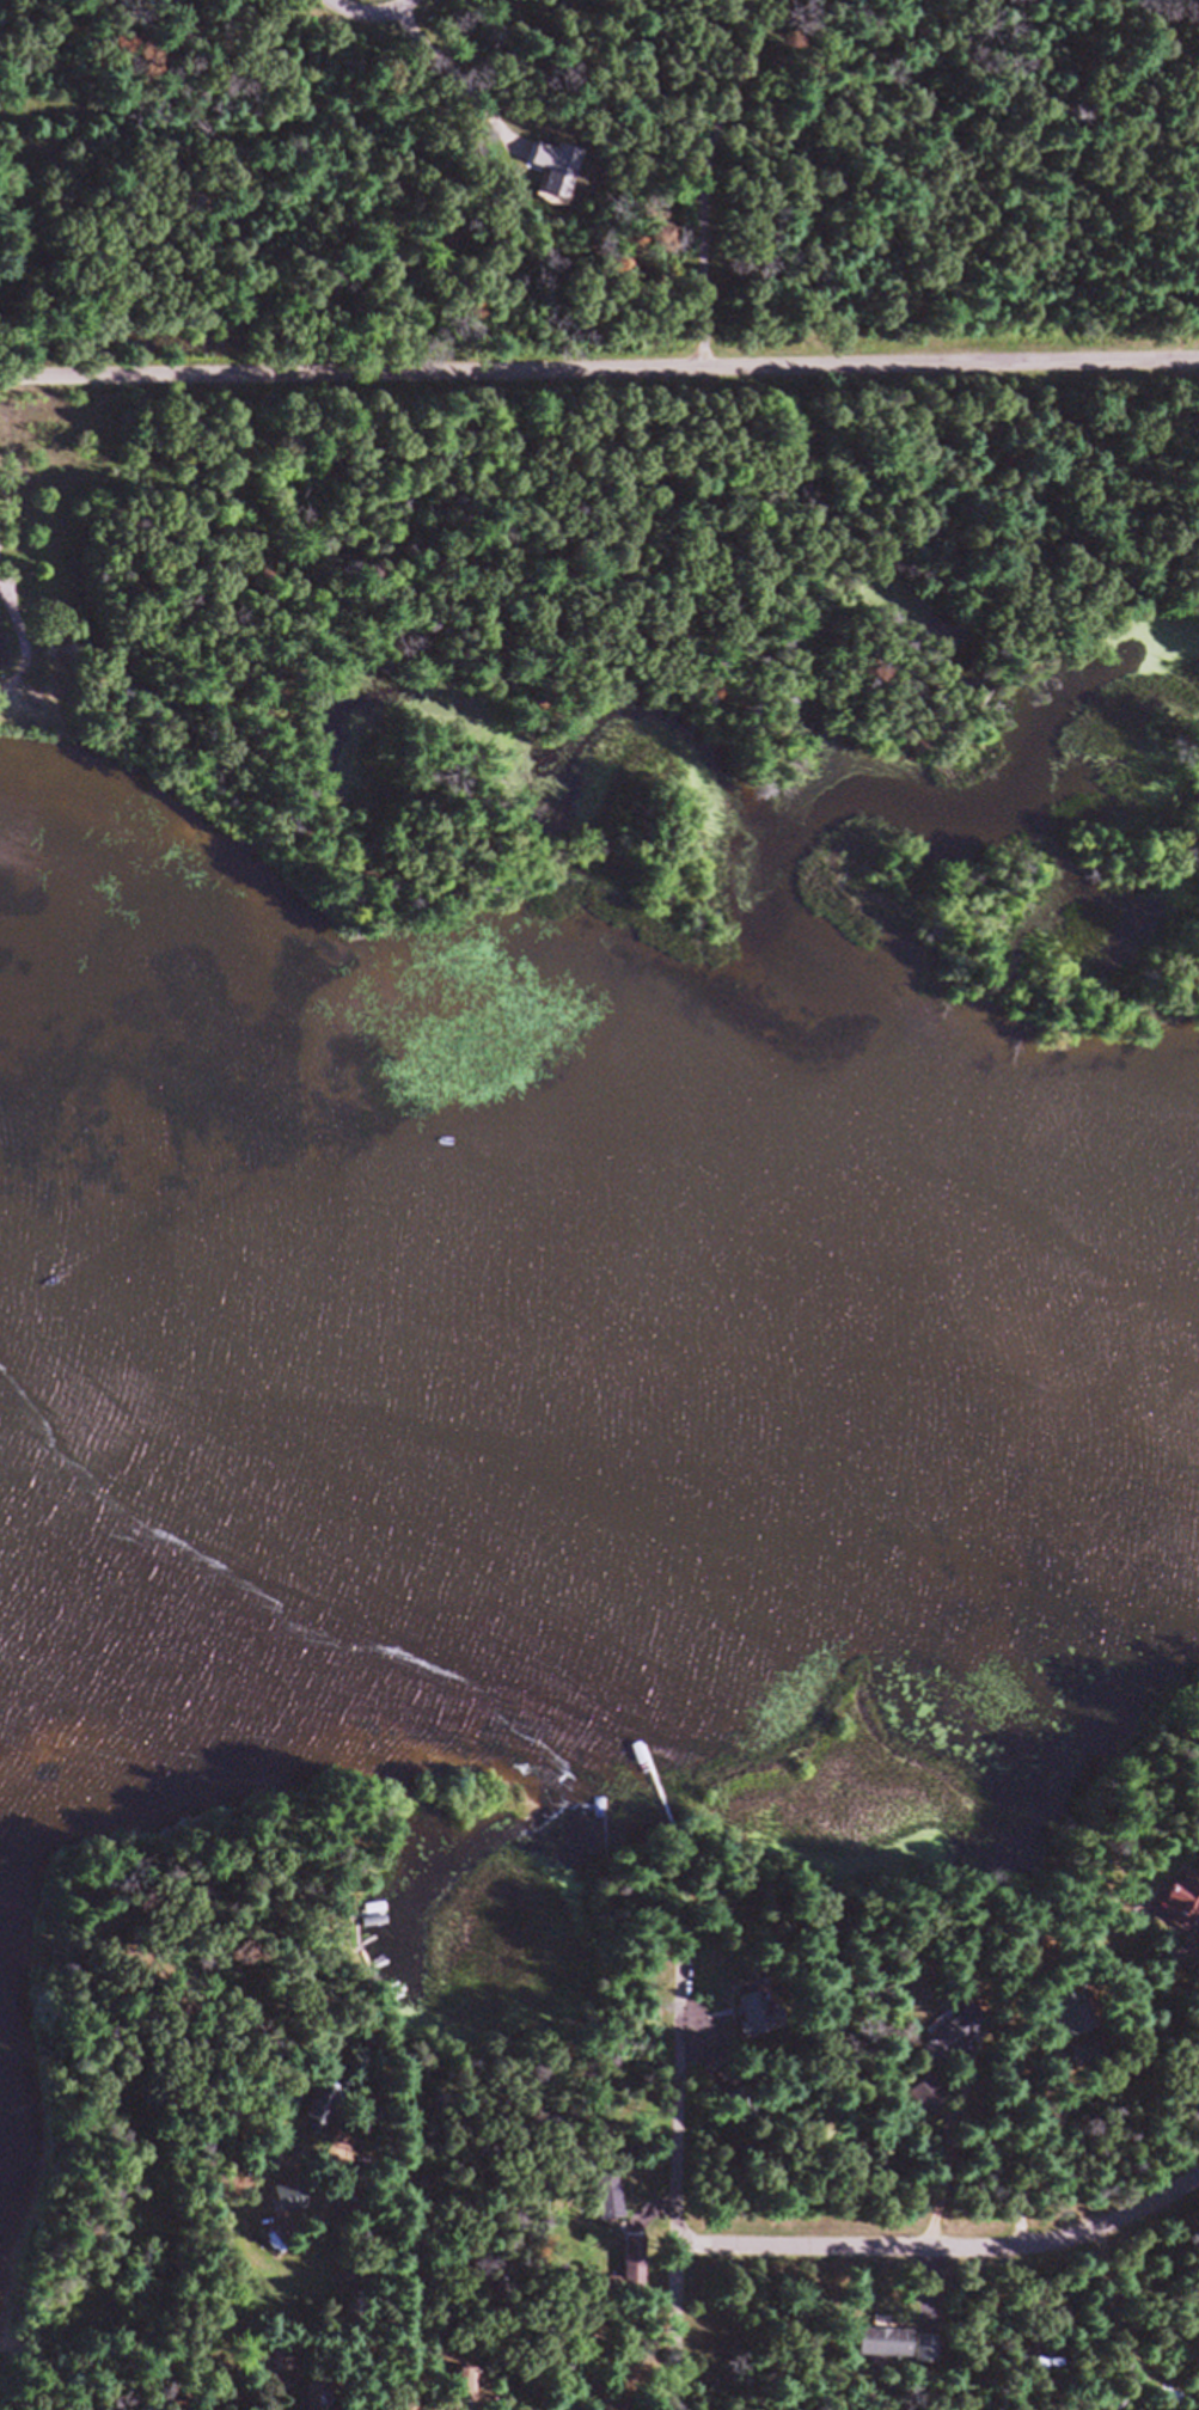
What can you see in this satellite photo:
road: (366, 13)
road: (599, 373)
building: (1182, 1908)
building: (754, 2020)
building: (1069, 2021)
building: (961, 2042)
building: (931, 2104)
building: (320, 2112)
road: (681, 2148)
road: (947, 2257)
building: (637, 2261)
road: (414, 2335)
building: (888, 2350)
building: (931, 2357)
building: (314, 2400)

